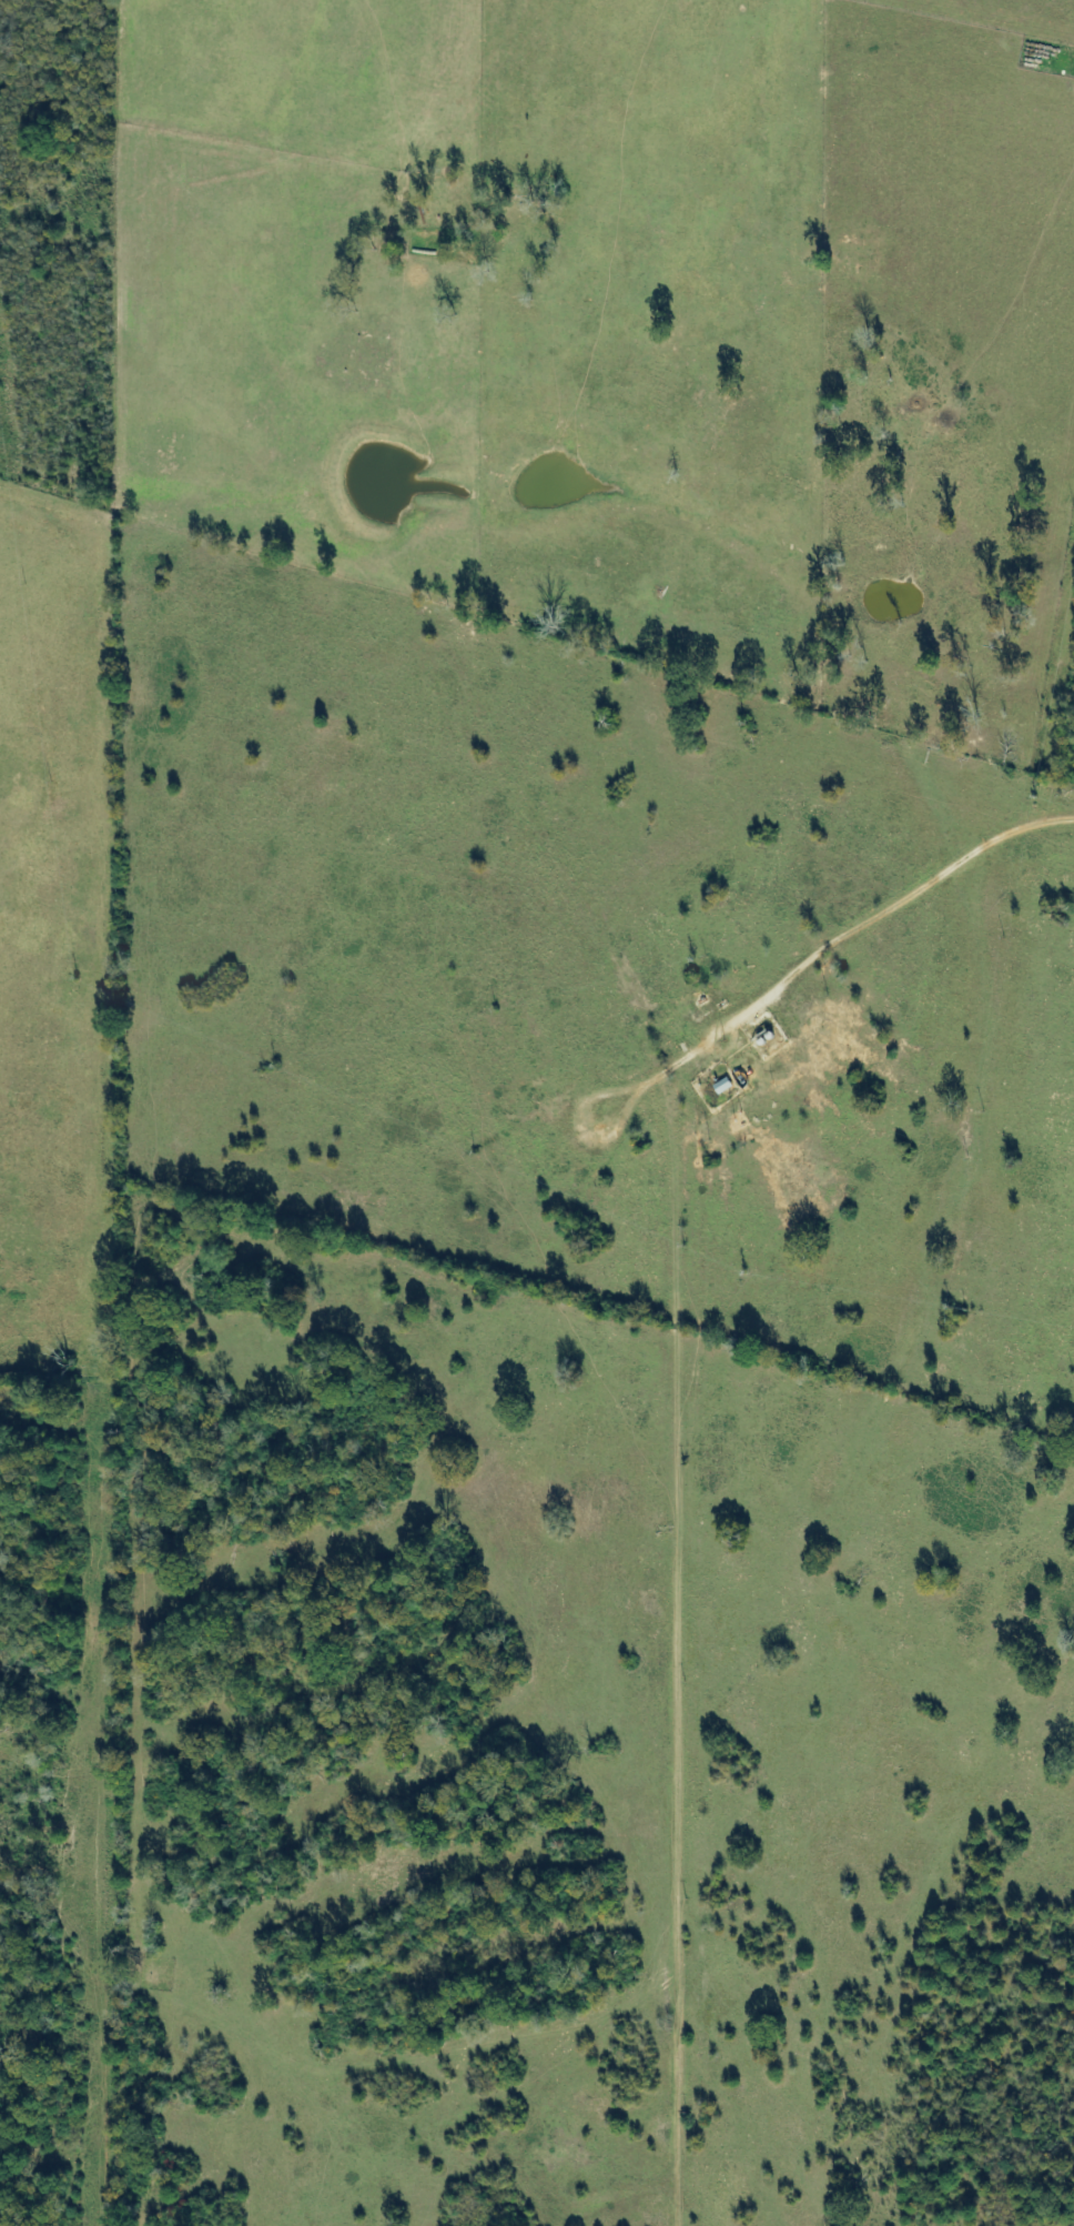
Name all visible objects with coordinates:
road: (1065, 735)
road: (672, 1403)

